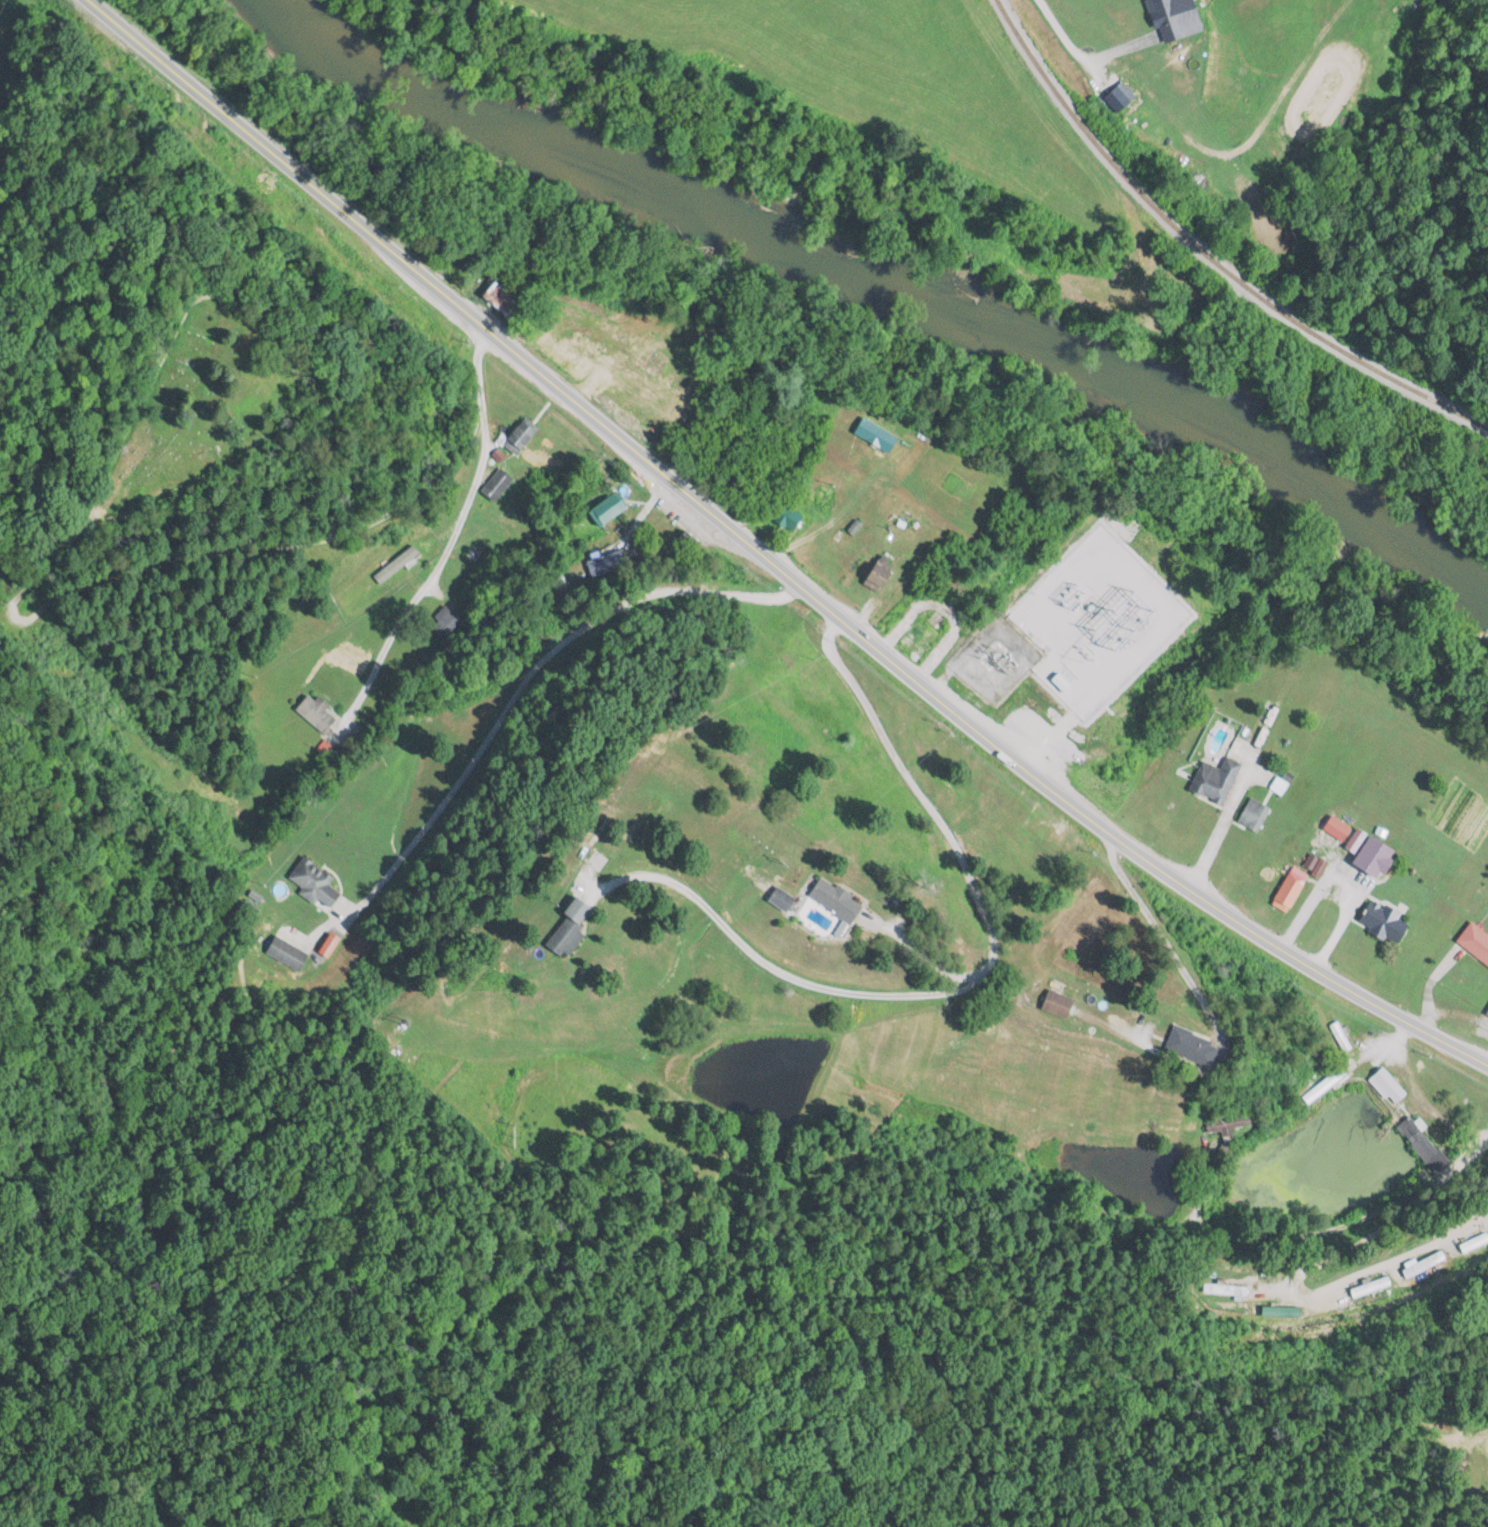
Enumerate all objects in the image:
building: (1174, 18)
railway: (1204, 256)
river: (882, 278)
building: (516, 437)
building: (496, 484)
building: (609, 505)
building: (785, 517)
building: (670, 529)
road: (449, 540)
building: (1114, 554)
road: (192, 557)
road: (770, 559)
building: (606, 563)
building: (876, 572)
building: (1057, 597)
building: (444, 621)
building: (1141, 623)
building: (909, 629)
building: (1127, 652)
road: (1056, 666)
building: (1104, 672)
road: (520, 690)
building: (1085, 695)
building: (316, 713)
building: (1051, 717)
building: (1103, 765)
building: (1213, 780)
building: (1252, 815)
road: (1217, 832)
road: (954, 847)
building: (1371, 856)
building: (313, 883)
building: (1287, 888)
building: (778, 898)
building: (833, 899)
building: (1382, 921)
road: (330, 926)
building: (563, 936)
building: (1474, 941)
building: (285, 953)
road: (763, 961)
building: (1053, 1003)
building: (1485, 1012)
building: (1187, 1046)
road: (1210, 1086)
building: (1323, 1086)
building: (1384, 1086)
road: (1418, 1096)
building: (1224, 1123)
building: (1418, 1142)
road: (1313, 1237)
building: (1472, 1242)
building: (1421, 1263)
building: (1369, 1286)
road: (1297, 1298)

